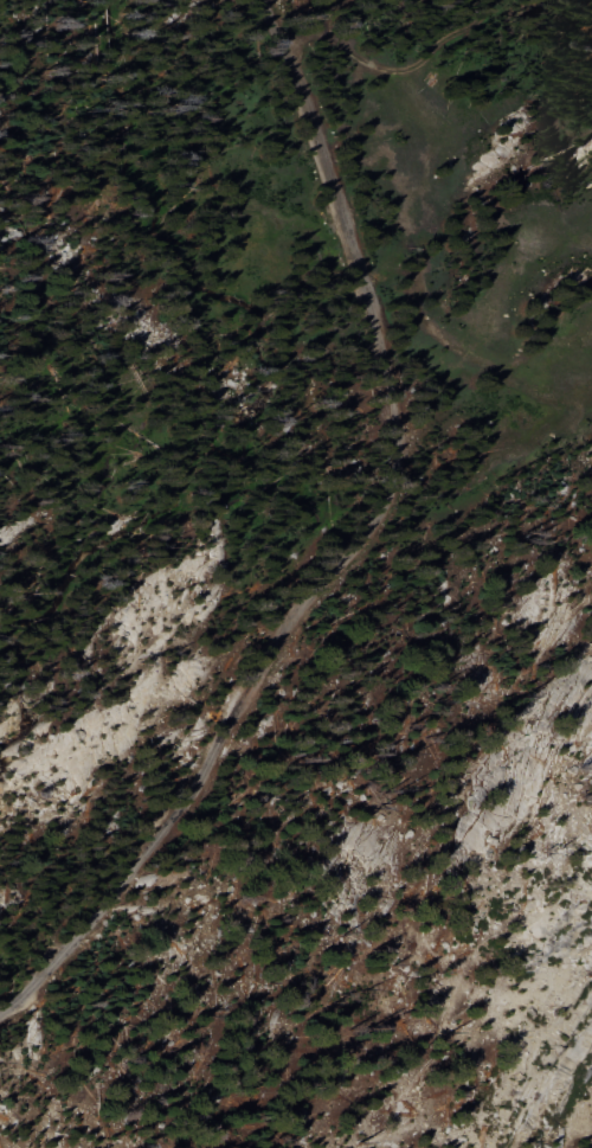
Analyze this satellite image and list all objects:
road: (385, 69)
road: (349, 550)
road: (427, 858)

